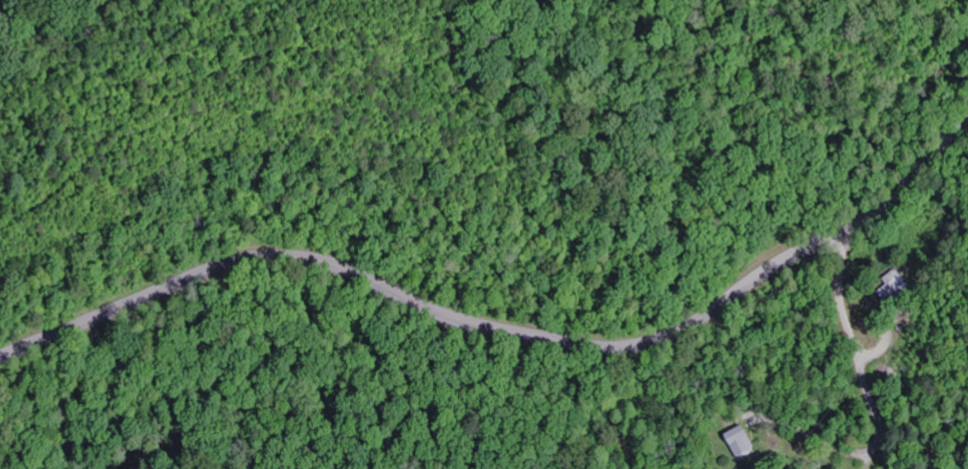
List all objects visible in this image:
road: (504, 328)
road: (867, 390)
building: (743, 441)

